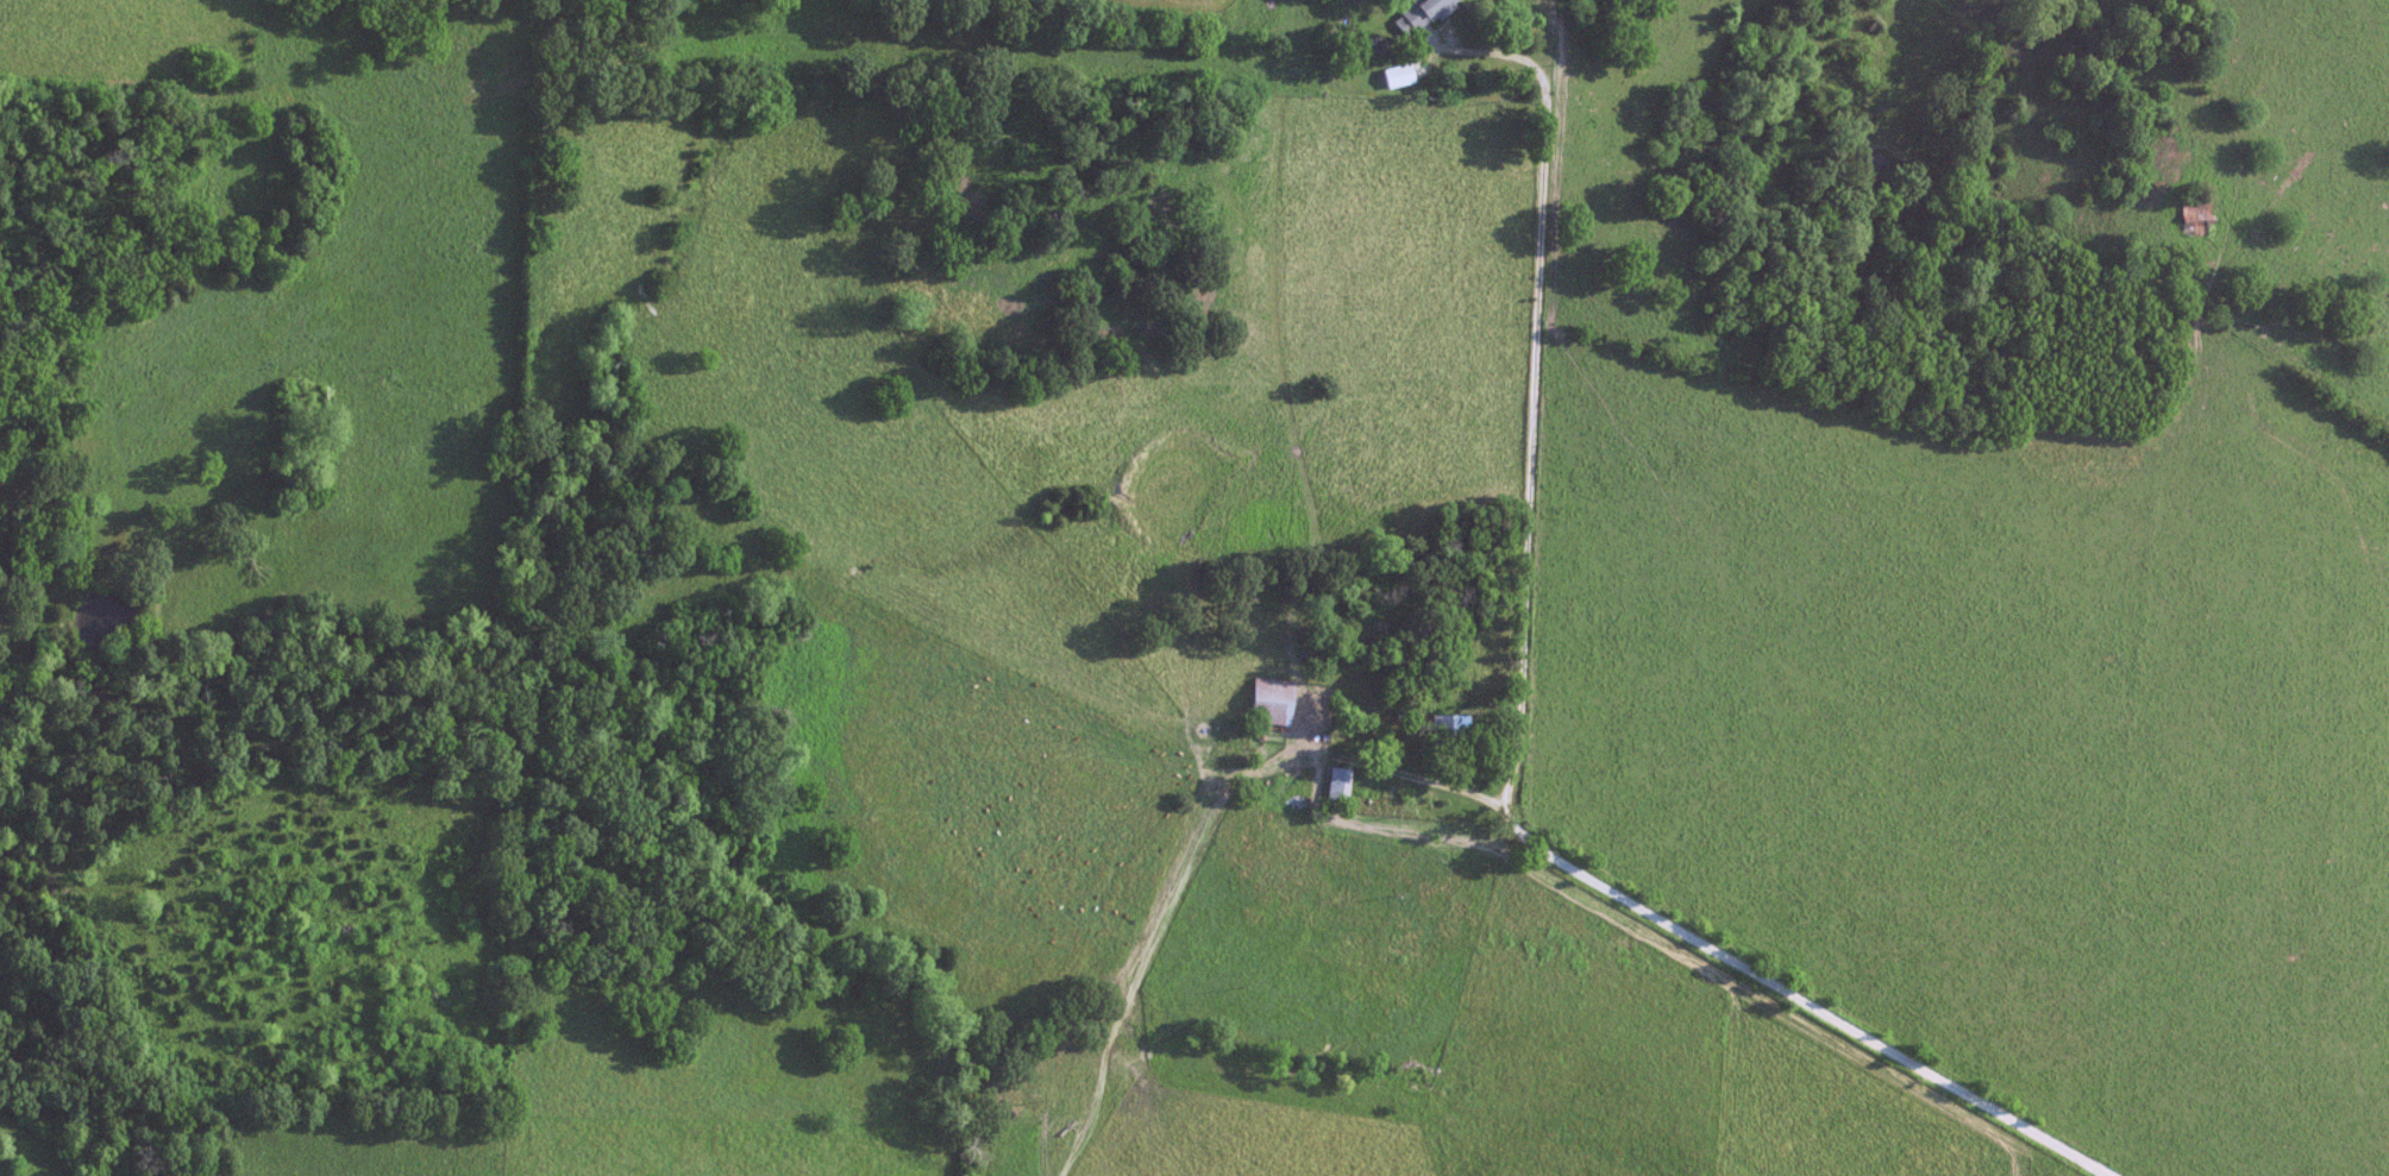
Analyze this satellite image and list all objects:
building: (1423, 15)
building: (1274, 700)
building: (1453, 725)
road: (1520, 735)
building: (1341, 784)
building: (1297, 800)

